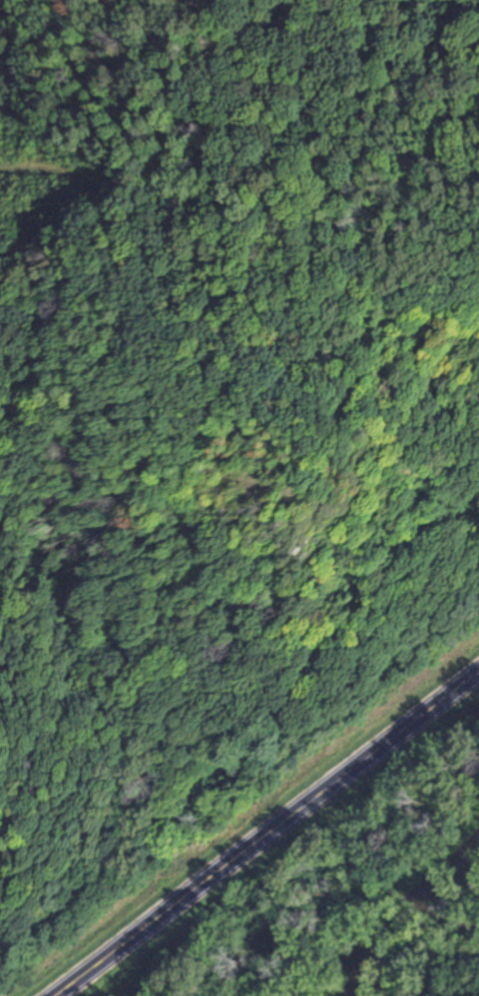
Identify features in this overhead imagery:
road: (268, 834)

